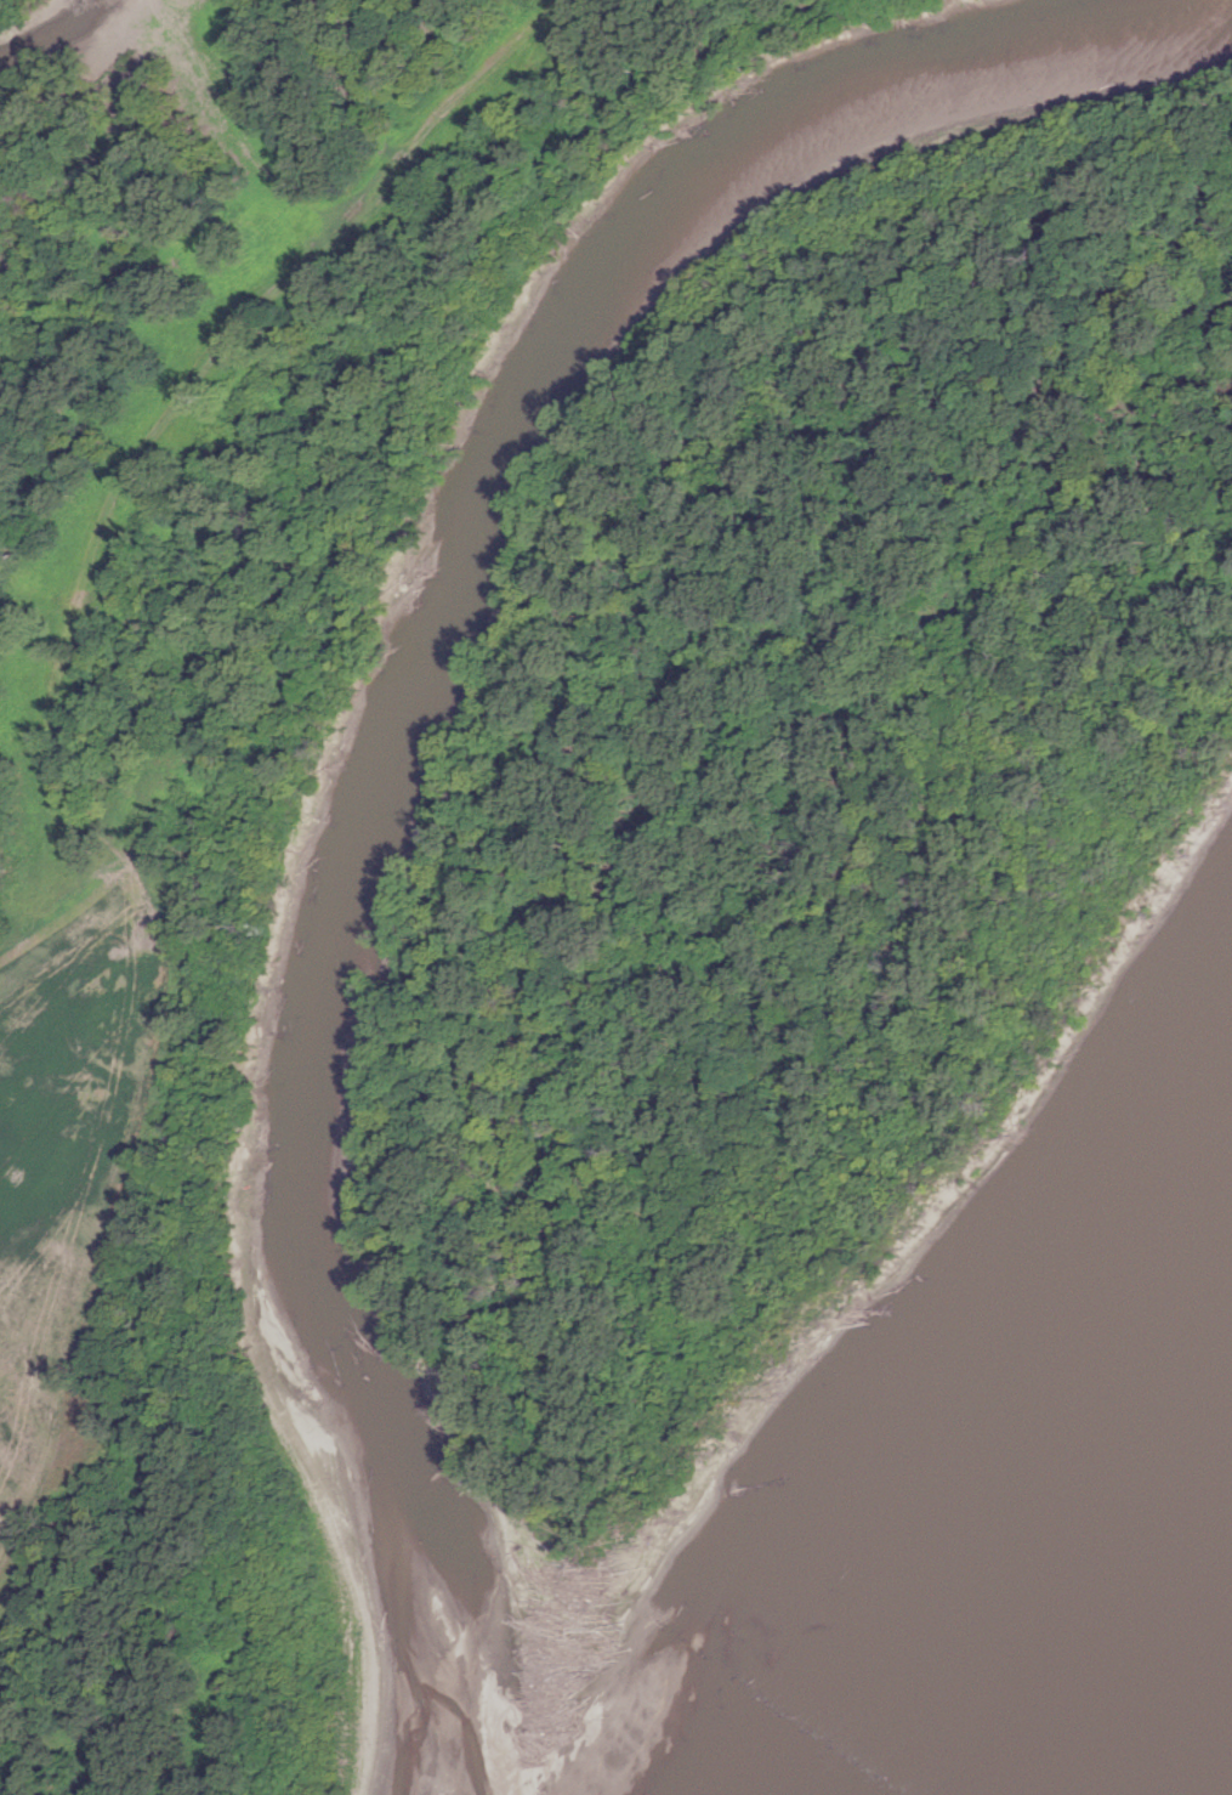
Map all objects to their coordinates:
road: (234, 115)
road: (441, 130)
road: (80, 560)
crop: (64, 1179)

